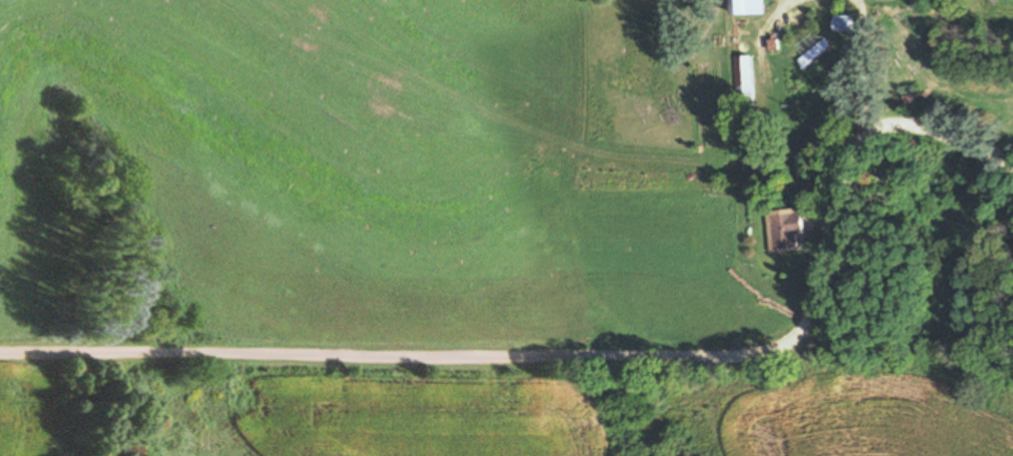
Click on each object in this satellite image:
building: (749, 8)
building: (844, 25)
building: (744, 76)
building: (913, 100)
building: (789, 230)
road: (587, 359)

